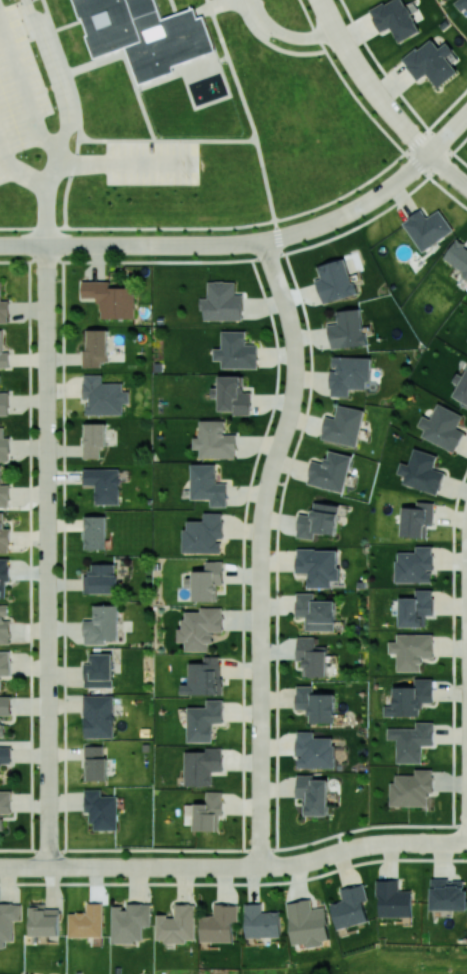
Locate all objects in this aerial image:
building: (463, 3)
building: (394, 18)
road: (287, 33)
building: (144, 34)
road: (270, 44)
building: (431, 62)
road: (368, 82)
road: (396, 88)
road: (24, 90)
parking lot: (18, 91)
road: (77, 112)
road: (370, 115)
road: (249, 117)
road: (67, 120)
road: (448, 134)
road: (167, 139)
parking lot: (151, 162)
road: (123, 164)
road: (448, 169)
road: (19, 171)
road: (391, 185)
road: (210, 227)
building: (427, 228)
road: (252, 242)
road: (75, 245)
building: (457, 256)
building: (335, 281)
building: (110, 298)
building: (222, 301)
building: (3, 307)
building: (347, 329)
building: (96, 348)
building: (236, 351)
building: (3, 354)
building: (349, 374)
building: (461, 388)
building: (103, 395)
building: (233, 395)
building: (4, 403)
building: (343, 425)
building: (442, 427)
building: (93, 439)
building: (215, 440)
building: (4, 446)
building: (330, 471)
building: (421, 471)
building: (103, 484)
building: (207, 484)
building: (4, 493)
building: (417, 519)
building: (318, 520)
building: (95, 532)
building: (204, 534)
building: (4, 536)
road: (260, 549)
road: (48, 556)
building: (318, 565)
building: (415, 565)
building: (4, 575)
building: (101, 579)
building: (208, 581)
building: (416, 608)
building: (316, 611)
building: (4, 625)
building: (101, 625)
building: (200, 626)
building: (411, 650)
building: (312, 656)
building: (5, 664)
building: (99, 671)
building: (204, 676)
building: (410, 698)
building: (316, 704)
building: (4, 710)
building: (98, 716)
building: (204, 718)
building: (411, 741)
building: (314, 750)
building: (5, 755)
building: (95, 763)
building: (201, 765)
building: (412, 788)
building: (313, 794)
building: (4, 805)
building: (101, 809)
building: (208, 810)
road: (310, 859)
road: (76, 867)
building: (448, 894)
building: (393, 899)
building: (350, 907)
building: (8, 920)
building: (44, 920)
building: (87, 921)
building: (130, 921)
building: (261, 921)
building: (219, 923)
building: (307, 923)
building: (177, 924)
park: (365, 962)
park: (3, 973)

